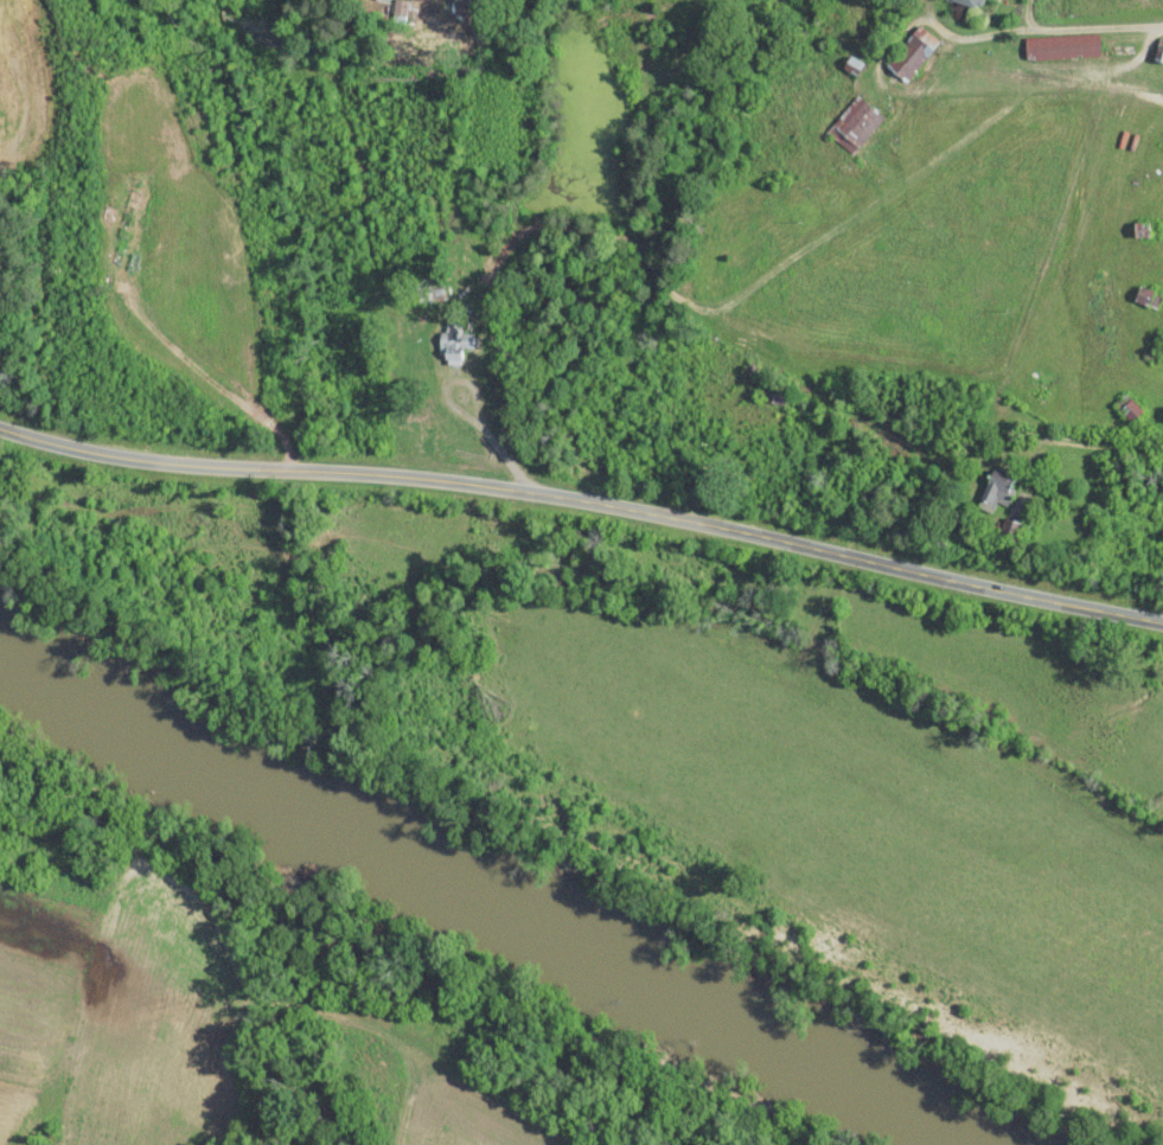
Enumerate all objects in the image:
building: (970, 1)
road: (1028, 14)
road: (1049, 26)
building: (1060, 44)
building: (913, 52)
building: (852, 122)
building: (1127, 408)
road: (467, 411)
building: (993, 490)
road: (584, 499)
river: (132, 717)
river: (616, 977)

